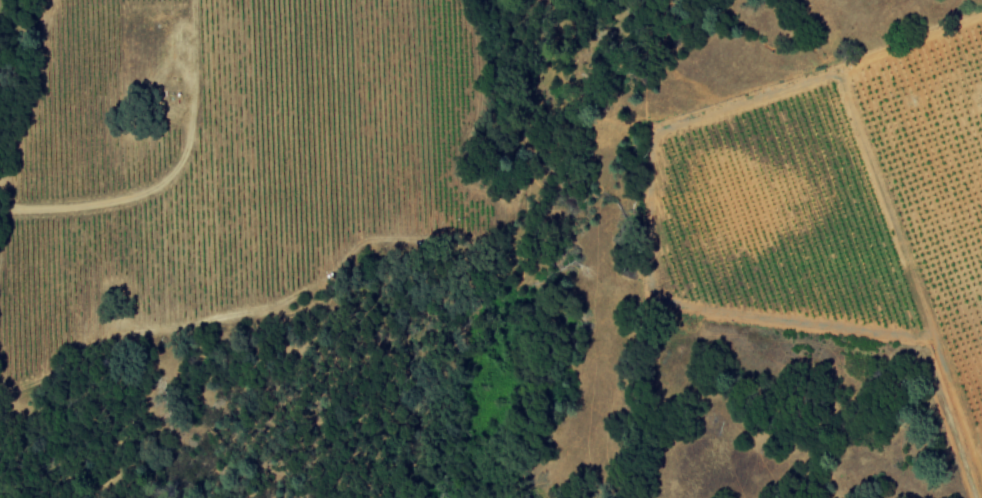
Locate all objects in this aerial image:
crop: (222, 151)
road: (170, 173)

